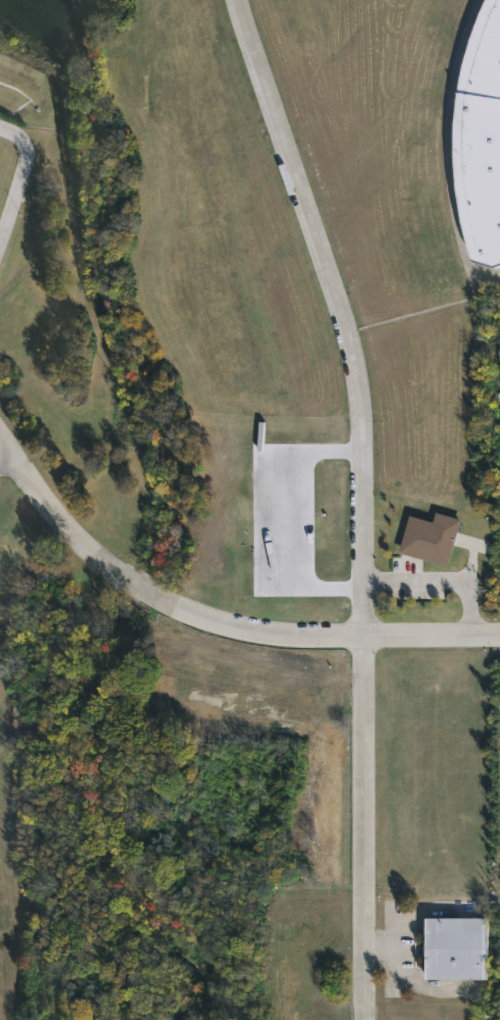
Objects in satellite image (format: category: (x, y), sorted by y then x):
building: (481, 136)
road: (446, 149)
road: (18, 176)
building: (499, 349)
road: (8, 463)
road: (364, 500)
road: (305, 521)
building: (430, 538)
road: (443, 580)
road: (214, 618)
building: (455, 948)

